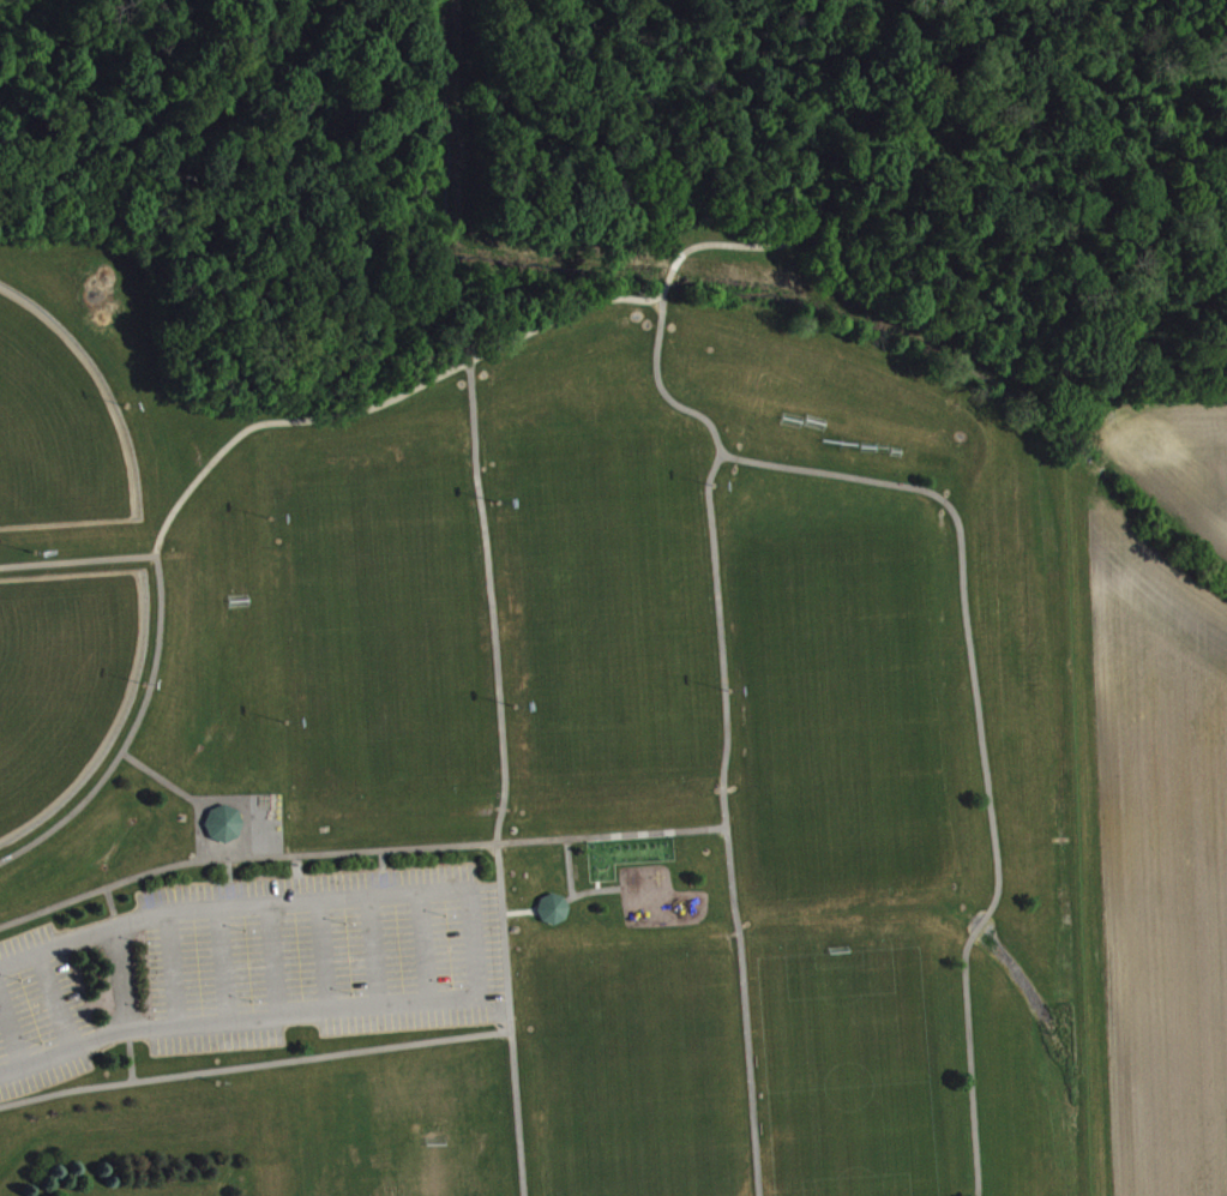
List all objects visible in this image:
road: (422, 386)
park: (55, 429)
road: (78, 561)
park: (609, 581)
park: (384, 600)
park: (546, 600)
park: (61, 684)
road: (726, 729)
park: (840, 734)
road: (978, 738)
road: (504, 779)
road: (182, 794)
building: (224, 831)
road: (356, 853)
road: (566, 869)
road: (381, 875)
road: (228, 884)
road: (588, 893)
road: (113, 909)
building: (552, 916)
road: (422, 949)
road: (470, 950)
road: (368, 952)
road: (321, 956)
road: (272, 960)
road: (222, 967)
parking lot: (252, 969)
road: (173, 973)
road: (118, 981)
road: (54, 1003)
park: (628, 1034)
road: (8, 1036)
road: (128, 1054)
road: (253, 1064)
park: (846, 1074)
park: (465, 1135)
park: (638, 1156)

